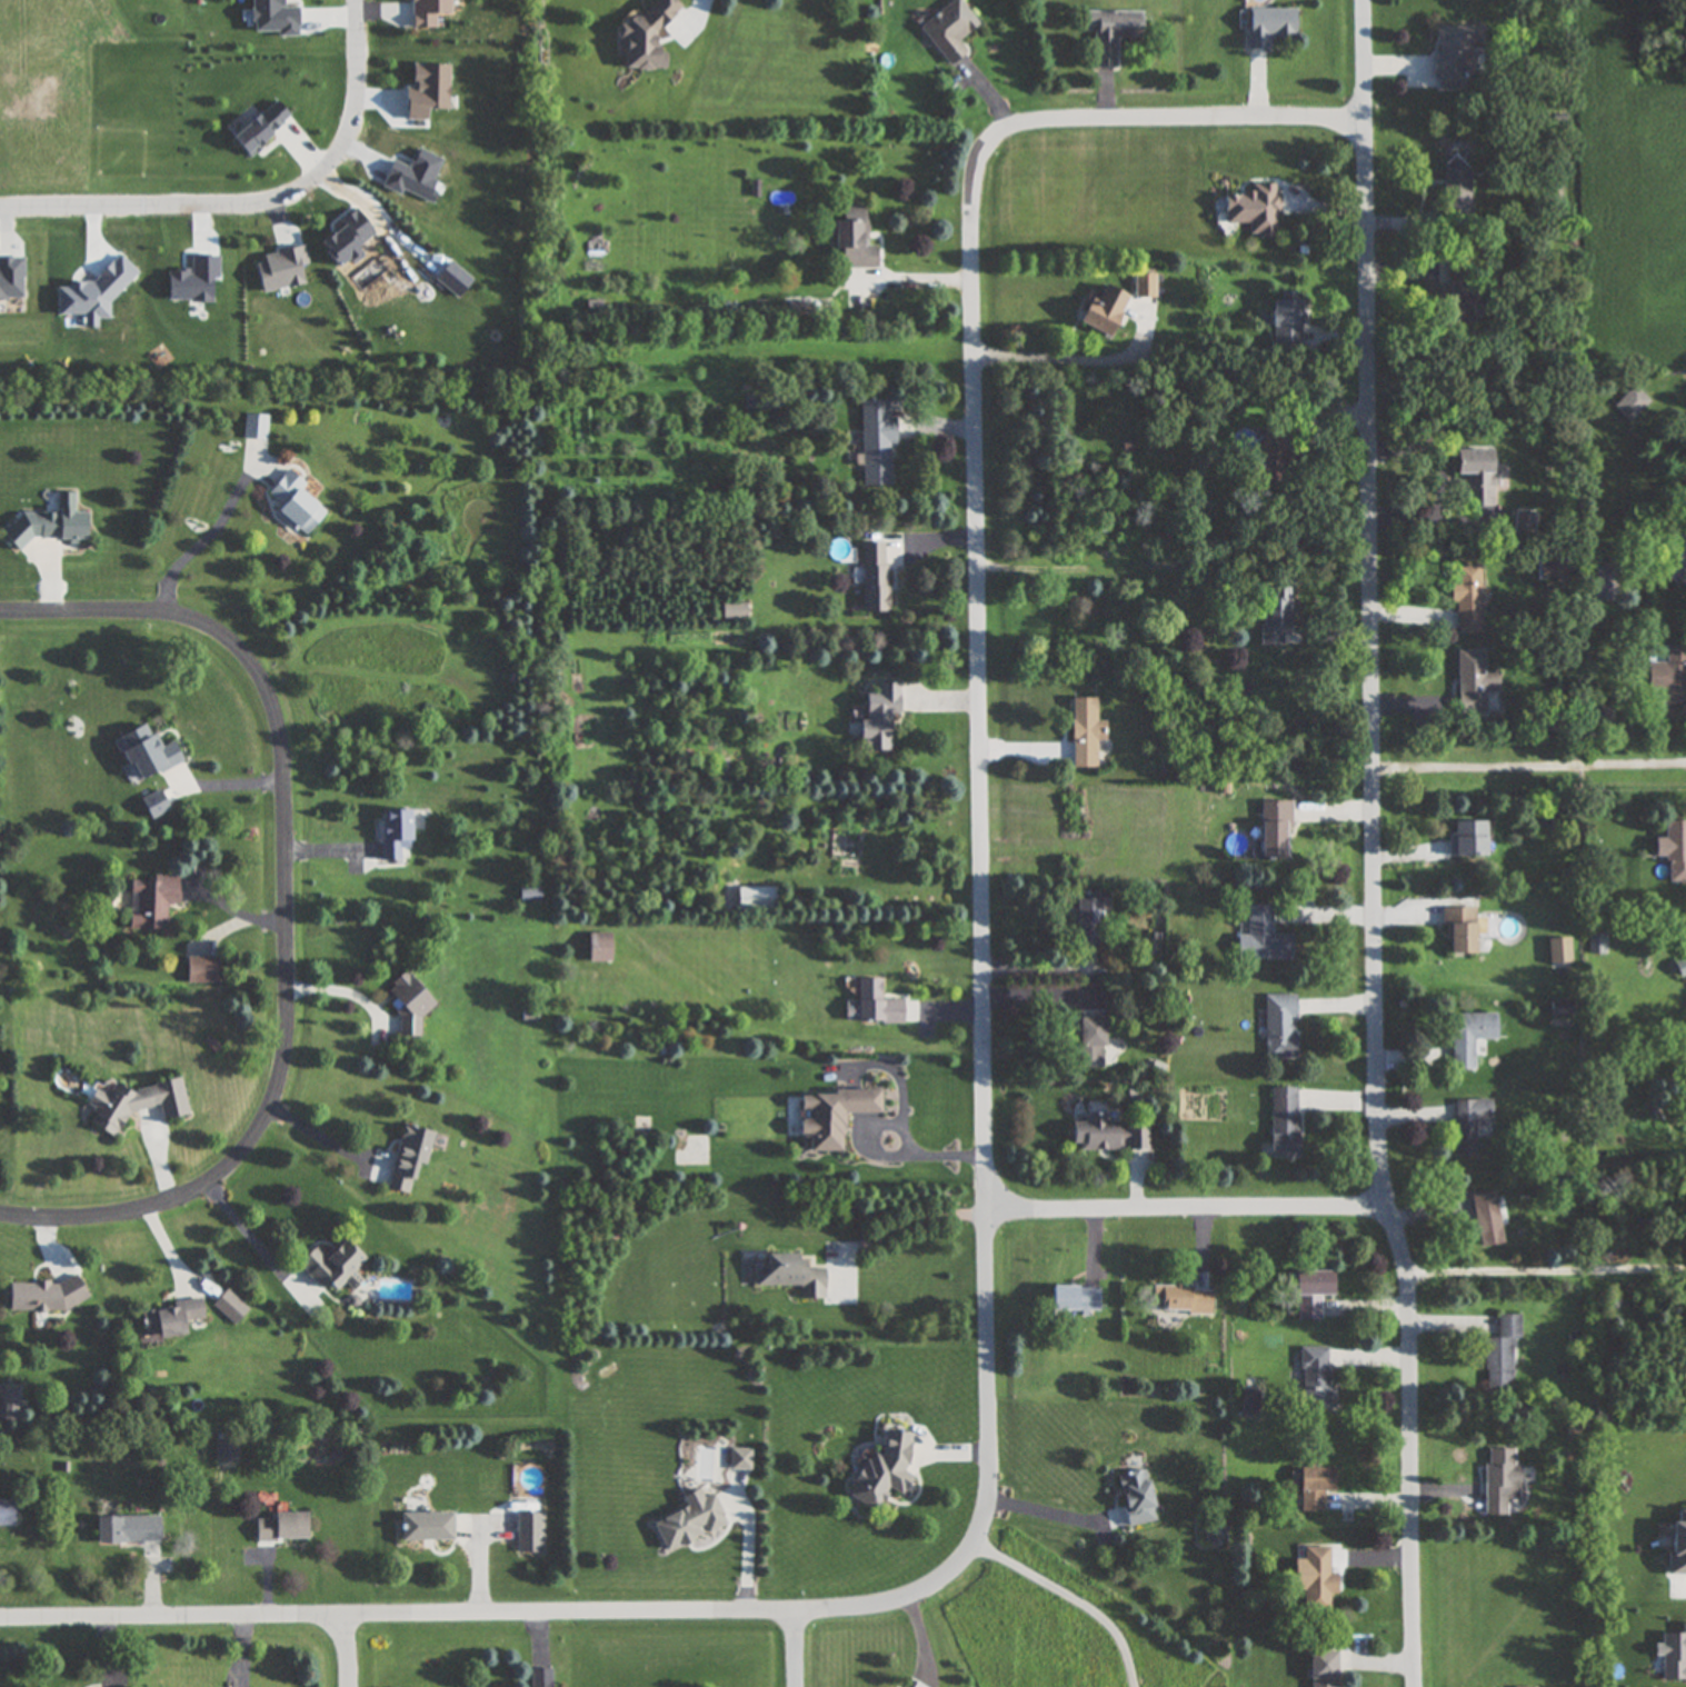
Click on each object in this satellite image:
road: (699, 9)
building: (428, 11)
building: (1268, 26)
building: (948, 31)
building: (1113, 34)
building: (645, 36)
building: (1454, 53)
building: (427, 88)
building: (257, 121)
building: (1455, 188)
road: (256, 201)
building: (1251, 211)
building: (349, 236)
building: (852, 239)
building: (282, 266)
road: (908, 276)
building: (1457, 303)
building: (1101, 309)
building: (1286, 321)
road: (1063, 358)
building: (1632, 403)
building: (252, 426)
building: (876, 441)
building: (1266, 460)
road: (975, 473)
building: (1474, 475)
building: (292, 501)
building: (44, 521)
road: (199, 535)
building: (1672, 558)
building: (874, 576)
building: (1605, 582)
building: (1465, 598)
building: (1276, 607)
road: (151, 609)
building: (732, 610)
building: (1669, 675)
building: (1471, 680)
building: (877, 717)
building: (1084, 731)
building: (143, 751)
road: (1528, 760)
road: (226, 781)
building: (151, 803)
building: (1274, 830)
building: (391, 832)
building: (1468, 839)
road: (1373, 845)
building: (1674, 850)
building: (528, 895)
building: (148, 900)
building: (1087, 919)
building: (1459, 930)
building: (1261, 937)
building: (1683, 937)
building: (598, 948)
building: (1558, 951)
building: (1680, 967)
building: (871, 1004)
building: (408, 1006)
building: (1560, 1008)
building: (1280, 1027)
building: (1469, 1038)
building: (1086, 1041)
road: (287, 1058)
building: (131, 1102)
building: (830, 1116)
building: (1283, 1122)
building: (1469, 1124)
building: (1107, 1134)
road: (327, 1135)
building: (407, 1155)
road: (886, 1156)
building: (1487, 1219)
road: (907, 1220)
road: (1184, 1220)
road: (255, 1240)
building: (329, 1264)
building: (791, 1275)
building: (1311, 1292)
building: (43, 1295)
building: (1074, 1298)
building: (1180, 1299)
building: (229, 1306)
building: (170, 1318)
building: (1500, 1352)
building: (1315, 1377)
building: (9, 1404)
building: (740, 1459)
building: (884, 1470)
building: (1503, 1481)
building: (1314, 1487)
building: (1136, 1497)
road: (1048, 1508)
building: (7, 1513)
building: (689, 1520)
building: (425, 1526)
building: (281, 1527)
building: (127, 1530)
building: (529, 1531)
building: (1677, 1545)
building: (1317, 1578)
road: (1074, 1598)
road: (661, 1607)
road: (796, 1647)
road: (349, 1648)
building: (1323, 1669)
building: (541, 1677)

